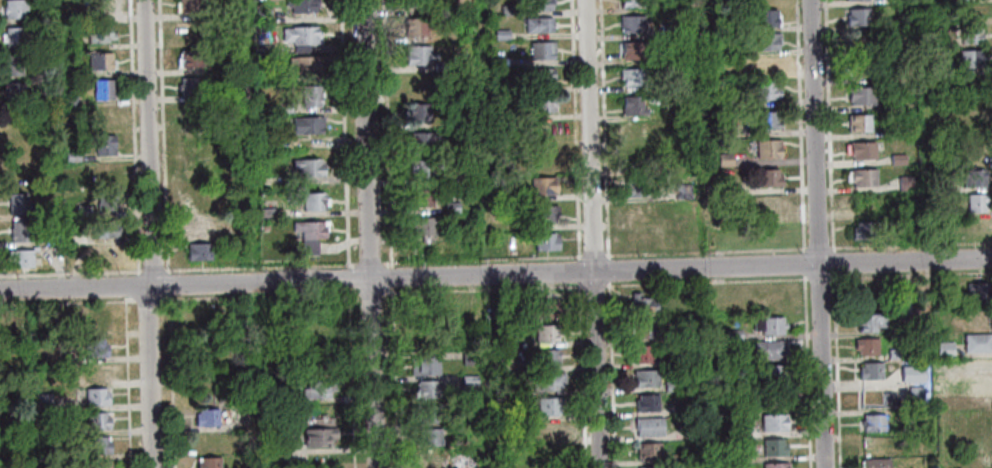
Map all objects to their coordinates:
building: (890, 1)
building: (413, 3)
building: (631, 3)
building: (537, 4)
building: (189, 5)
building: (299, 5)
building: (97, 6)
building: (13, 8)
building: (507, 9)
building: (260, 15)
building: (764, 17)
building: (856, 17)
building: (930, 21)
building: (629, 23)
building: (891, 23)
building: (536, 24)
building: (413, 26)
building: (666, 29)
building: (193, 32)
building: (98, 33)
building: (298, 33)
building: (499, 34)
building: (969, 34)
building: (15, 35)
building: (765, 40)
building: (857, 42)
building: (539, 49)
building: (631, 50)
building: (417, 53)
building: (190, 57)
building: (968, 58)
building: (100, 60)
building: (491, 61)
building: (304, 63)
building: (762, 63)
building: (12, 64)
building: (931, 64)
building: (438, 65)
building: (858, 68)
building: (718, 71)
building: (630, 75)
building: (541, 77)
building: (687, 82)
building: (972, 82)
building: (191, 84)
building: (421, 84)
building: (102, 88)
building: (762, 89)
building: (237, 90)
building: (14, 91)
building: (859, 94)
building: (309, 95)
building: (68, 100)
building: (541, 103)
building: (720, 103)
building: (631, 105)
building: (973, 105)
building: (283, 107)
building: (415, 111)
building: (102, 117)
building: (759, 119)
building: (857, 122)
building: (305, 124)
road: (826, 125)
road: (798, 126)
road: (573, 129)
road: (602, 129)
building: (891, 129)
building: (635, 131)
road: (342, 134)
road: (384, 134)
road: (135, 135)
road: (161, 136)
building: (420, 139)
building: (194, 141)
building: (103, 143)
road: (148, 143)
building: (766, 148)
building: (18, 149)
building: (860, 149)
building: (461, 150)
building: (975, 152)
building: (71, 155)
building: (544, 158)
building: (638, 159)
building: (723, 159)
building: (896, 159)
building: (306, 166)
building: (421, 167)
building: (108, 172)
building: (18, 175)
building: (861, 176)
building: (766, 177)
building: (972, 177)
building: (447, 179)
building: (904, 183)
building: (541, 185)
building: (635, 185)
building: (941, 187)
building: (724, 188)
building: (420, 196)
building: (499, 196)
building: (196, 197)
building: (104, 199)
building: (311, 200)
building: (974, 201)
building: (16, 203)
building: (770, 206)
building: (450, 207)
building: (82, 210)
building: (264, 212)
building: (642, 212)
building: (544, 213)
building: (192, 224)
building: (423, 225)
building: (103, 228)
building: (869, 229)
building: (18, 230)
building: (246, 232)
road: (591, 233)
building: (774, 233)
building: (308, 234)
road: (368, 234)
building: (466, 234)
road: (816, 234)
building: (51, 239)
building: (667, 239)
building: (544, 241)
road: (910, 243)
road: (817, 247)
road: (704, 250)
building: (197, 251)
building: (108, 254)
road: (592, 255)
building: (20, 257)
road: (371, 261)
road: (832, 262)
road: (802, 263)
road: (151, 269)
road: (607, 270)
road: (69, 271)
road: (577, 271)
road: (943, 274)
road: (496, 275)
road: (831, 277)
road: (348, 278)
road: (390, 278)
road: (817, 278)
road: (704, 282)
road: (166, 283)
road: (592, 285)
road: (481, 289)
building: (941, 290)
building: (977, 291)
road: (368, 292)
road: (257, 296)
road: (145, 300)
building: (774, 301)
building: (696, 302)
road: (66, 303)
building: (641, 304)
building: (904, 306)
building: (539, 309)
building: (98, 320)
building: (867, 321)
building: (767, 324)
building: (641, 328)
building: (544, 332)
building: (684, 334)
building: (731, 334)
building: (495, 340)
building: (976, 342)
building: (864, 346)
building: (93, 347)
building: (943, 349)
building: (767, 350)
building: (641, 353)
building: (894, 353)
building: (468, 357)
building: (545, 357)
building: (675, 360)
building: (494, 364)
building: (422, 366)
building: (979, 367)
road: (835, 370)
building: (869, 370)
building: (98, 371)
road: (805, 372)
building: (773, 373)
building: (910, 373)
road: (611, 374)
road: (580, 375)
road: (148, 377)
road: (394, 377)
building: (644, 377)
road: (350, 378)
building: (468, 380)
road: (169, 381)
building: (544, 381)
building: (720, 381)
road: (126, 384)
building: (670, 385)
building: (316, 388)
building: (426, 388)
building: (914, 391)
building: (980, 391)
building: (95, 396)
building: (272, 396)
building: (42, 401)
building: (645, 402)
building: (548, 405)
building: (677, 409)
building: (496, 412)
building: (427, 413)
building: (981, 415)
building: (205, 417)
building: (454, 417)
building: (95, 420)
building: (772, 422)
building: (872, 422)
building: (647, 426)
building: (547, 430)
building: (695, 430)
building: (740, 430)
building: (317, 436)
building: (428, 437)
building: (210, 440)
building: (275, 443)
building: (96, 444)
building: (773, 446)
building: (875, 446)
building: (647, 450)
building: (435, 458)
building: (677, 458)
building: (551, 459)
building: (983, 461)
building: (207, 462)
building: (874, 463)
building: (94, 464)
building: (774, 465)
building: (649, 467)

